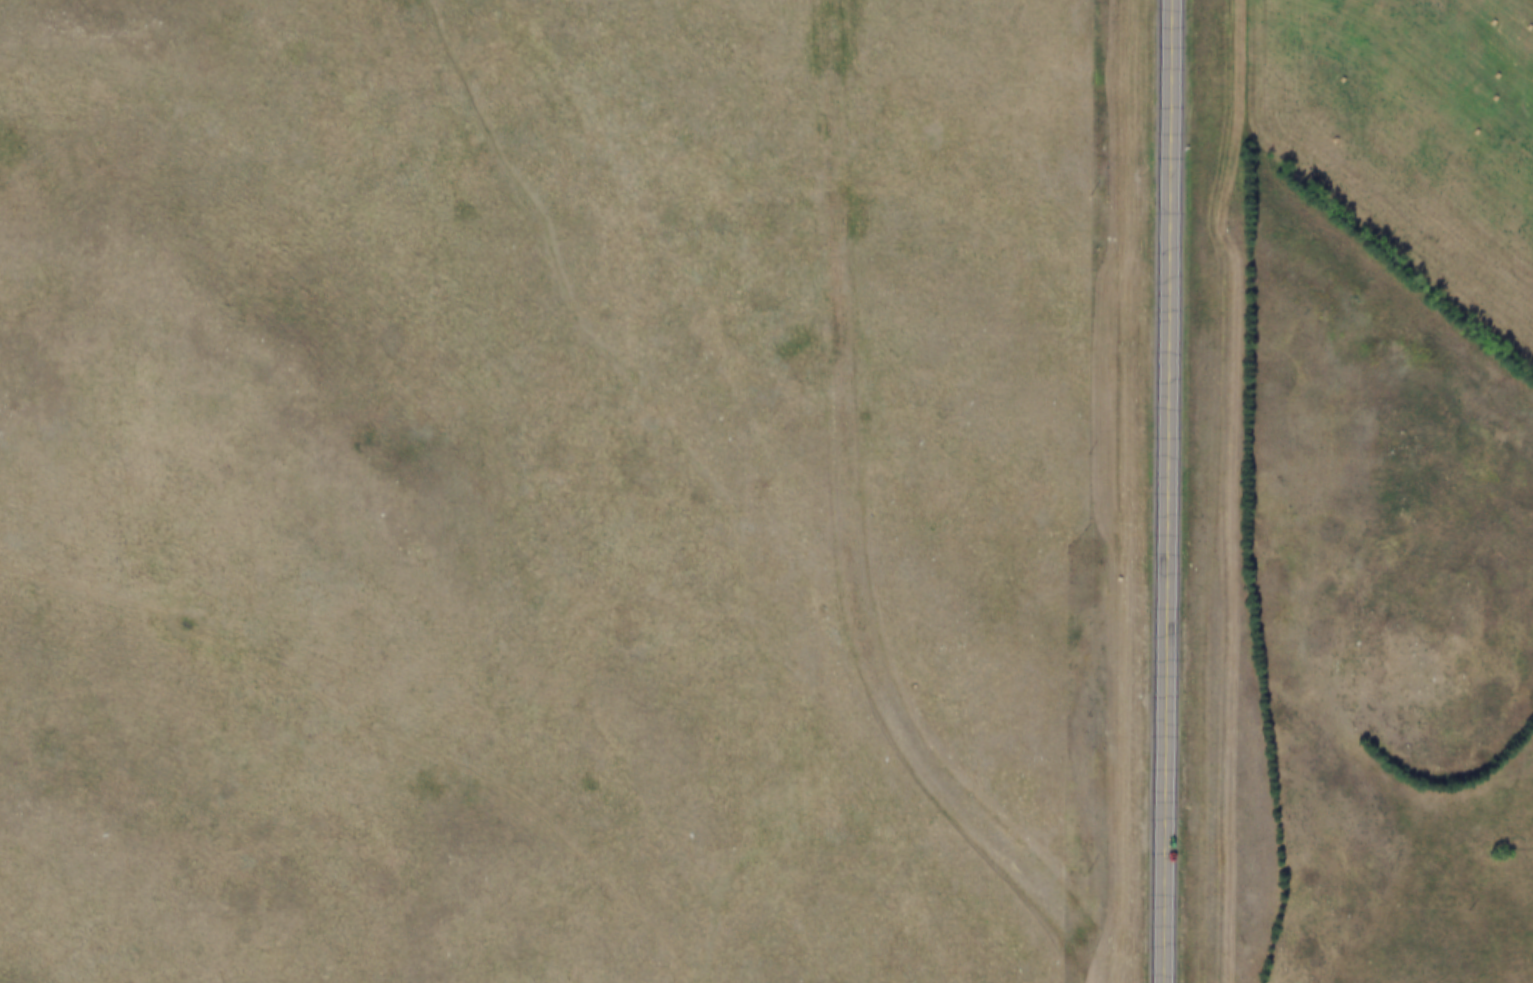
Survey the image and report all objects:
road: (1170, 491)

